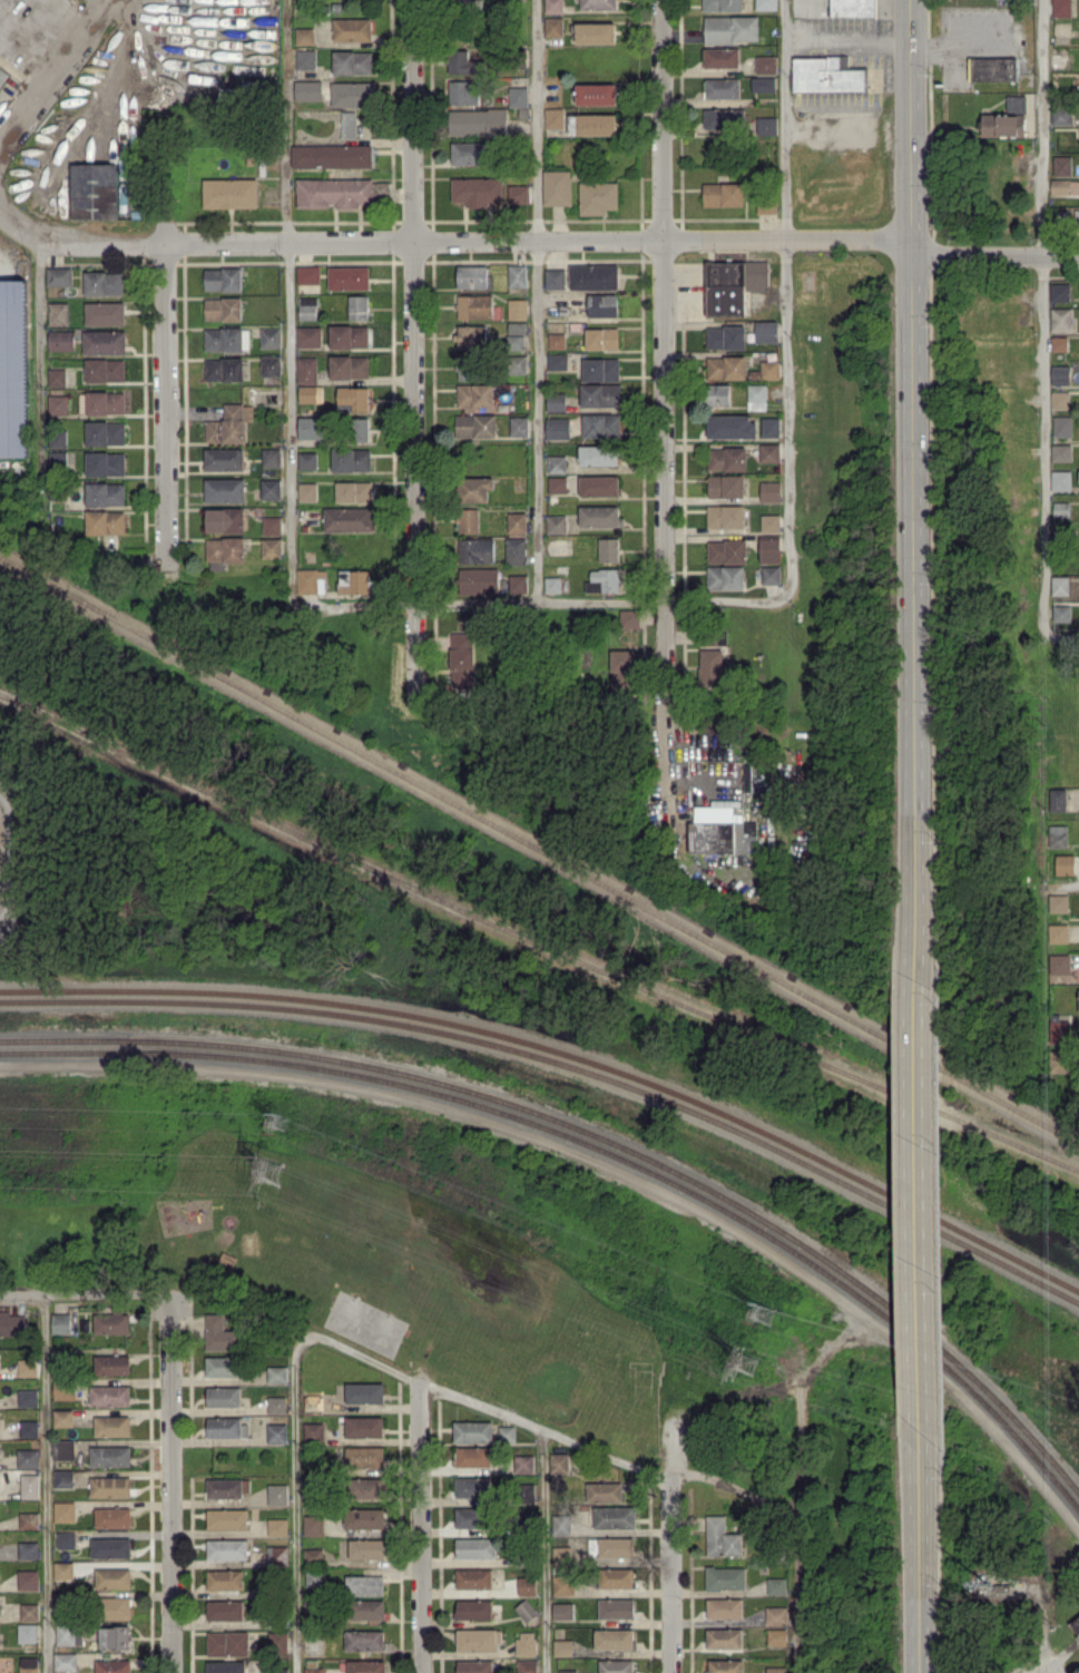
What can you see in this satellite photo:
building: (598, 4)
building: (766, 4)
building: (553, 6)
building: (722, 6)
building: (853, 8)
building: (1061, 8)
building: (553, 26)
building: (352, 29)
building: (732, 29)
building: (596, 32)
building: (304, 36)
road: (846, 40)
road: (965, 47)
building: (722, 57)
building: (306, 60)
building: (1058, 61)
building: (344, 62)
building: (766, 63)
building: (992, 68)
building: (826, 75)
building: (2, 76)
road: (56, 76)
building: (764, 82)
building: (722, 87)
building: (463, 92)
building: (597, 94)
building: (518, 96)
building: (1016, 104)
building: (1060, 114)
building: (555, 117)
building: (725, 118)
building: (478, 121)
road: (825, 121)
building: (592, 124)
building: (766, 125)
building: (1003, 125)
building: (467, 154)
building: (332, 157)
building: (1062, 165)
building: (1060, 186)
building: (557, 187)
building: (475, 192)
building: (335, 193)
building: (230, 194)
building: (723, 194)
building: (518, 195)
building: (598, 196)
building: (766, 206)
building: (1076, 215)
road: (787, 241)
road: (326, 243)
road: (995, 254)
building: (308, 275)
building: (517, 276)
building: (592, 276)
building: (59, 277)
building: (349, 277)
building: (555, 277)
building: (468, 278)
building: (223, 280)
building: (102, 284)
building: (732, 286)
building: (1060, 292)
road: (291, 301)
road: (539, 301)
road: (784, 301)
building: (602, 304)
building: (474, 307)
building: (223, 309)
building: (357, 309)
building: (517, 309)
building: (306, 310)
building: (105, 314)
road: (1046, 317)
building: (1061, 319)
building: (765, 331)
building: (471, 336)
building: (516, 336)
building: (726, 336)
building: (271, 337)
building: (308, 337)
building: (349, 337)
building: (601, 337)
building: (223, 340)
building: (557, 340)
building: (104, 343)
building: (1059, 343)
road: (414, 351)
building: (557, 361)
building: (517, 364)
building: (271, 365)
building: (726, 366)
building: (349, 368)
building: (17, 369)
road: (40, 369)
building: (600, 369)
building: (769, 369)
building: (224, 370)
building: (306, 370)
building: (104, 371)
building: (1060, 374)
building: (56, 378)
building: (600, 393)
building: (717, 393)
building: (474, 397)
building: (756, 397)
building: (353, 398)
building: (1060, 399)
building: (556, 401)
building: (105, 403)
building: (57, 405)
road: (165, 405)
road: (663, 408)
building: (600, 424)
building: (227, 425)
building: (519, 425)
building: (729, 425)
building: (1062, 425)
building: (475, 427)
building: (769, 427)
building: (557, 428)
building: (311, 429)
building: (361, 429)
building: (105, 433)
building: (768, 451)
building: (1061, 451)
building: (598, 454)
building: (271, 458)
building: (726, 458)
building: (57, 459)
building: (224, 460)
building: (347, 460)
building: (307, 461)
building: (556, 463)
building: (105, 464)
building: (1060, 480)
building: (557, 483)
building: (598, 485)
building: (725, 486)
road: (912, 488)
building: (269, 489)
building: (475, 490)
building: (769, 490)
building: (224, 491)
building: (307, 492)
building: (105, 493)
building: (1061, 509)
building: (599, 515)
building: (725, 516)
building: (225, 520)
building: (469, 520)
building: (105, 521)
building: (516, 521)
building: (769, 522)
building: (556, 524)
building: (272, 525)
building: (271, 547)
building: (769, 548)
building: (475, 549)
building: (608, 549)
building: (516, 550)
building: (224, 551)
building: (726, 551)
building: (769, 574)
building: (725, 577)
building: (311, 580)
building: (354, 580)
building: (479, 580)
building: (606, 580)
building: (518, 583)
building: (552, 584)
building: (1060, 585)
road: (539, 601)
building: (1061, 613)
building: (629, 617)
road: (1062, 637)
building: (462, 659)
building: (710, 667)
building: (622, 668)
building: (1057, 799)
building: (720, 829)
building: (1058, 835)
railway: (539, 849)
building: (1065, 863)
road: (1066, 886)
building: (1058, 902)
building: (1057, 932)
railway: (534, 941)
building: (1059, 963)
building: (1078, 999)
railway: (562, 1051)
railway: (562, 1063)
power tower: (287, 1126)
railway: (595, 1133)
railway: (596, 1146)
power tower: (279, 1172)
road: (916, 1204)
road: (85, 1297)
power tower: (765, 1311)
building: (61, 1322)
building: (12, 1323)
building: (111, 1323)
building: (219, 1333)
building: (111, 1363)
power tower: (747, 1364)
building: (222, 1366)
building: (27, 1367)
building: (277, 1374)
building: (65, 1389)
building: (364, 1392)
building: (109, 1395)
building: (224, 1396)
building: (28, 1398)
road: (474, 1400)
building: (313, 1402)
building: (276, 1405)
building: (62, 1417)
building: (111, 1425)
building: (364, 1426)
building: (226, 1427)
building: (29, 1428)
building: (313, 1431)
building: (472, 1431)
building: (276, 1432)
building: (506, 1434)
building: (63, 1449)
building: (110, 1456)
building: (363, 1456)
building: (472, 1456)
building: (28, 1457)
building: (559, 1462)
building: (523, 1464)
building: (62, 1478)
building: (30, 1485)
road: (43, 1485)
road: (170, 1485)
building: (110, 1486)
building: (472, 1486)
road: (734, 1486)
building: (227, 1487)
building: (367, 1487)
building: (604, 1491)
building: (527, 1493)
building: (276, 1494)
building: (63, 1510)
road: (293, 1516)
building: (614, 1516)
building: (112, 1517)
building: (363, 1517)
building: (469, 1517)
building: (226, 1518)
building: (29, 1519)
building: (561, 1524)
building: (313, 1525)
building: (276, 1526)
road: (420, 1526)
building: (720, 1537)
building: (66, 1539)
building: (611, 1546)
building: (110, 1547)
building: (475, 1547)
building: (226, 1548)
building: (365, 1548)
building: (28, 1549)
road: (547, 1550)
road: (668, 1552)
road: (919, 1552)
building: (560, 1553)
building: (313, 1554)
building: (276, 1555)
building: (63, 1569)
building: (112, 1577)
building: (615, 1577)
building: (724, 1577)
building: (224, 1578)
building: (472, 1578)
building: (28, 1579)
building: (364, 1584)
building: (562, 1584)
building: (526, 1585)
building: (775, 1585)
road: (793, 1596)
building: (116, 1607)
building: (615, 1607)
building: (723, 1607)
building: (366, 1608)
building: (473, 1608)
building: (224, 1610)
building: (524, 1610)
building: (562, 1610)
building: (26, 1611)
building: (774, 1615)
building: (1075, 1623)
building: (28, 1632)
building: (65, 1634)
building: (114, 1636)
building: (775, 1636)
building: (723, 1637)
building: (478, 1638)
building: (612, 1638)
building: (363, 1640)
building: (227, 1643)
building: (276, 1643)
building: (524, 1643)
building: (562, 1646)
building: (66, 1661)
building: (29, 1664)
building: (112, 1665)
building: (526, 1665)
building: (615, 1665)
building: (724, 1665)
building: (225, 1666)
building: (365, 1666)
building: (473, 1666)
building: (775, 1669)
building: (277, 1670)
building: (314, 1670)
building: (567, 1671)

